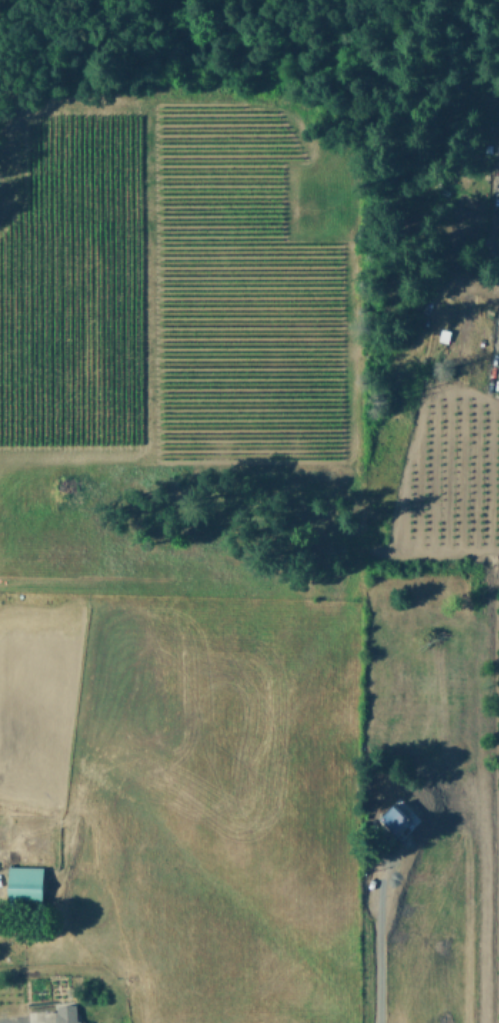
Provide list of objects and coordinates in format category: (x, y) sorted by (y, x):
road: (493, 264)
crop: (240, 562)
building: (395, 821)
building: (21, 882)
road: (381, 925)

